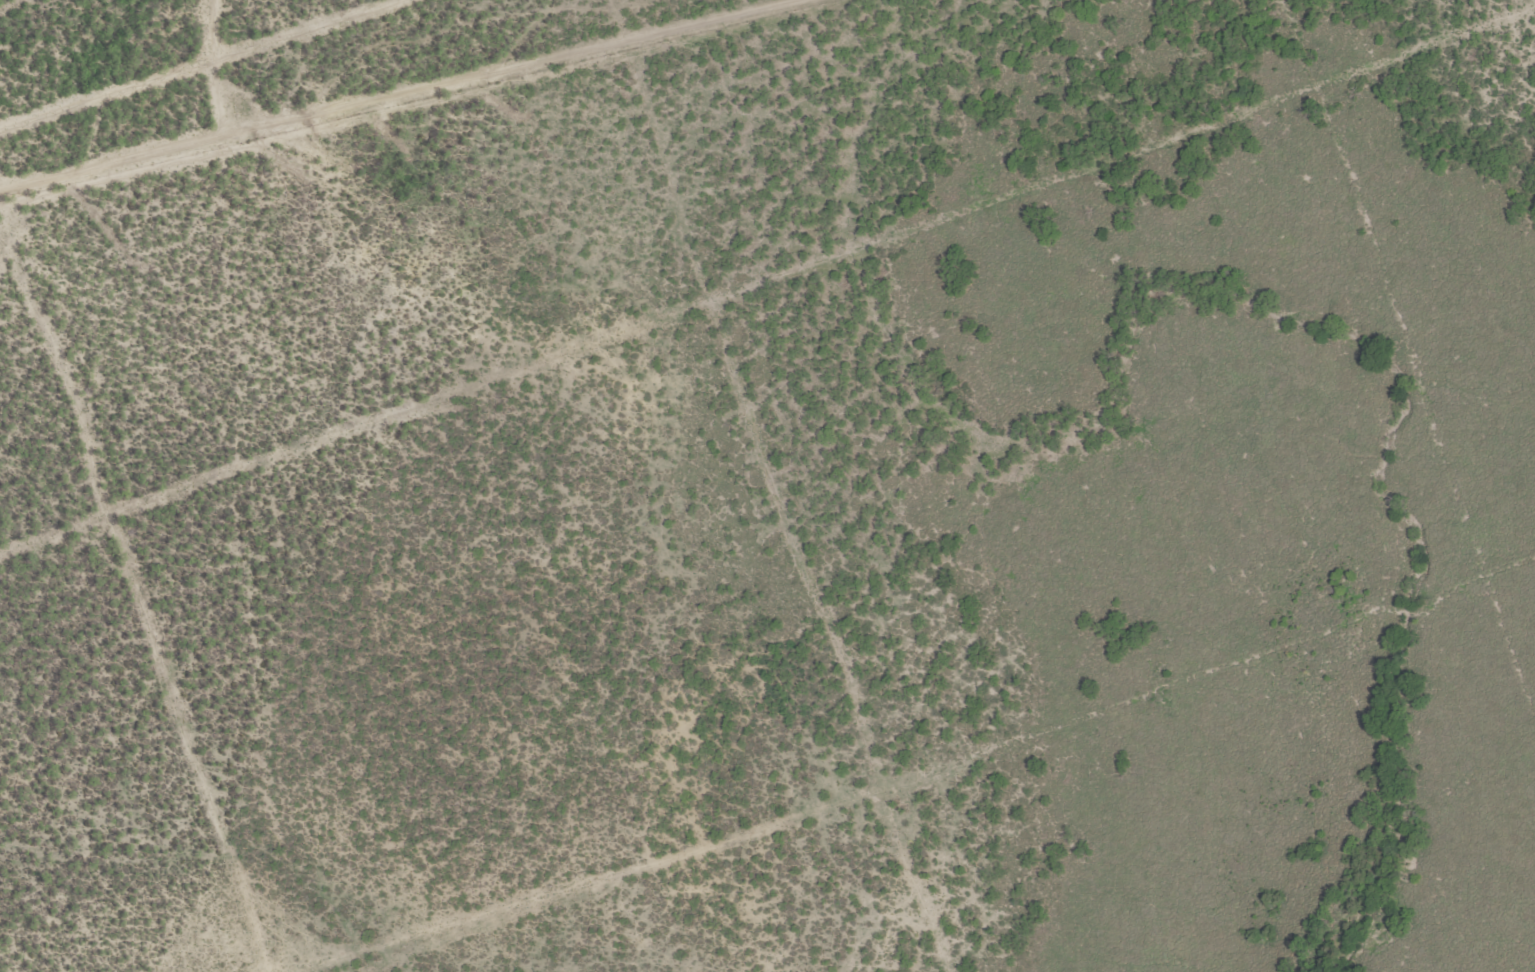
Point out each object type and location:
road: (395, 97)

